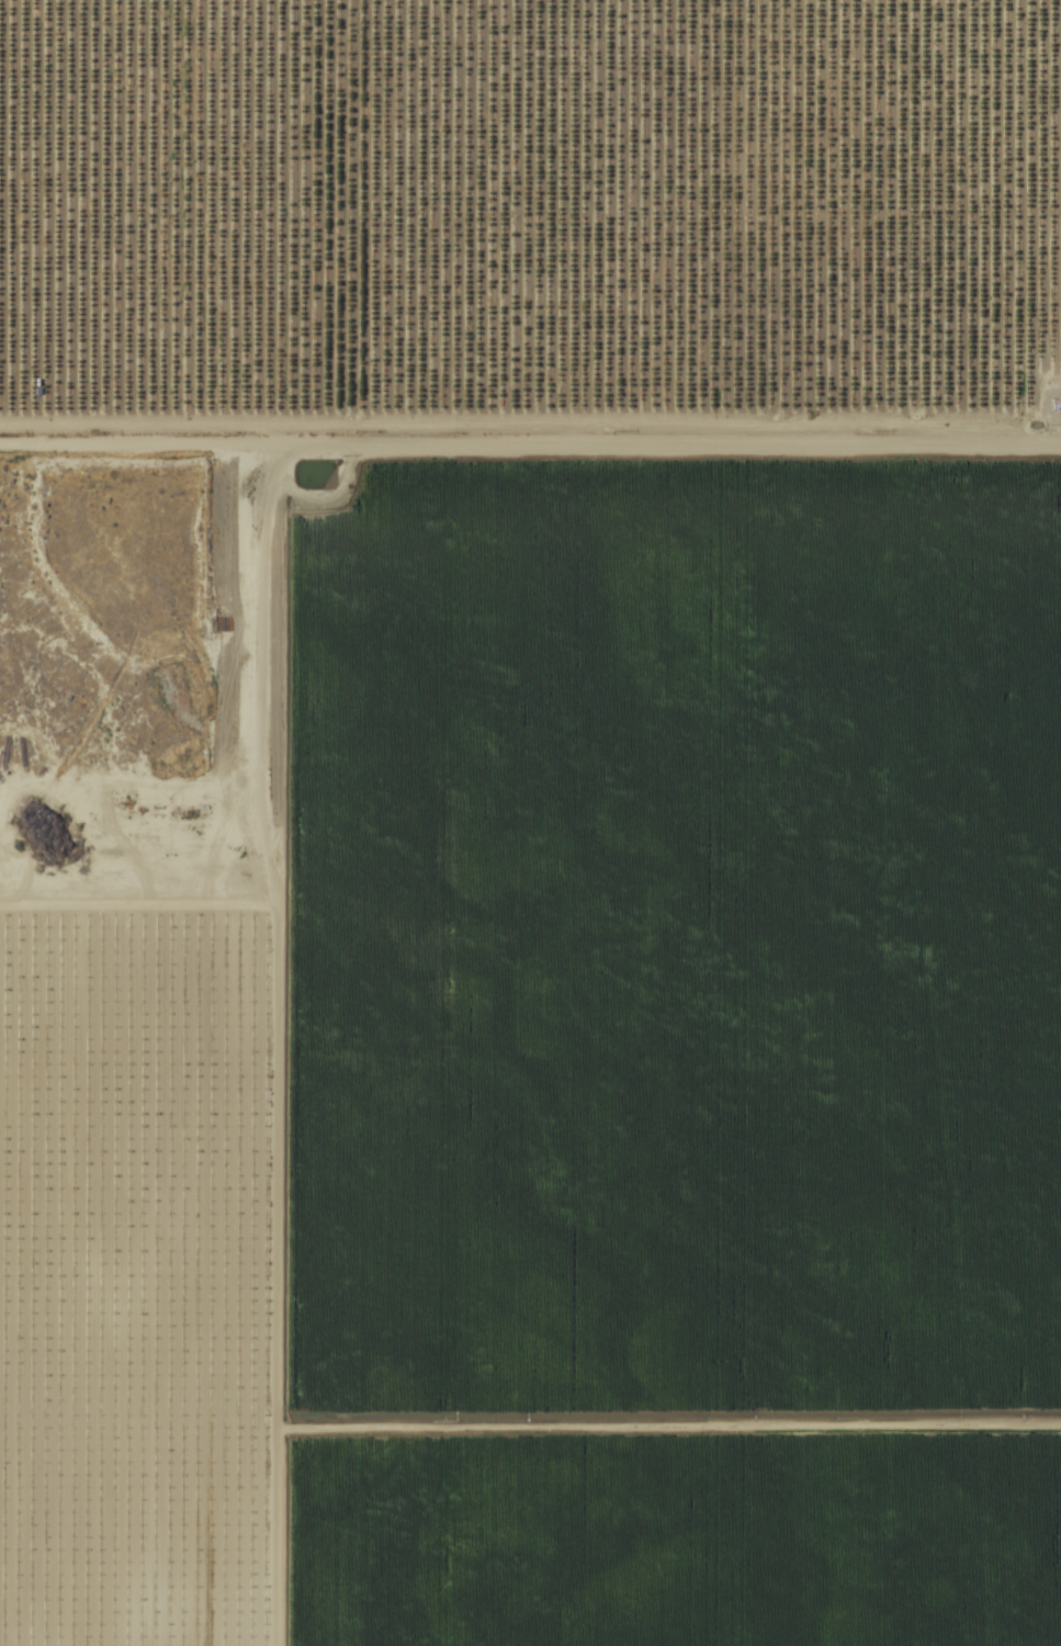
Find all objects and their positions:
road: (553, 371)
road: (529, 540)

